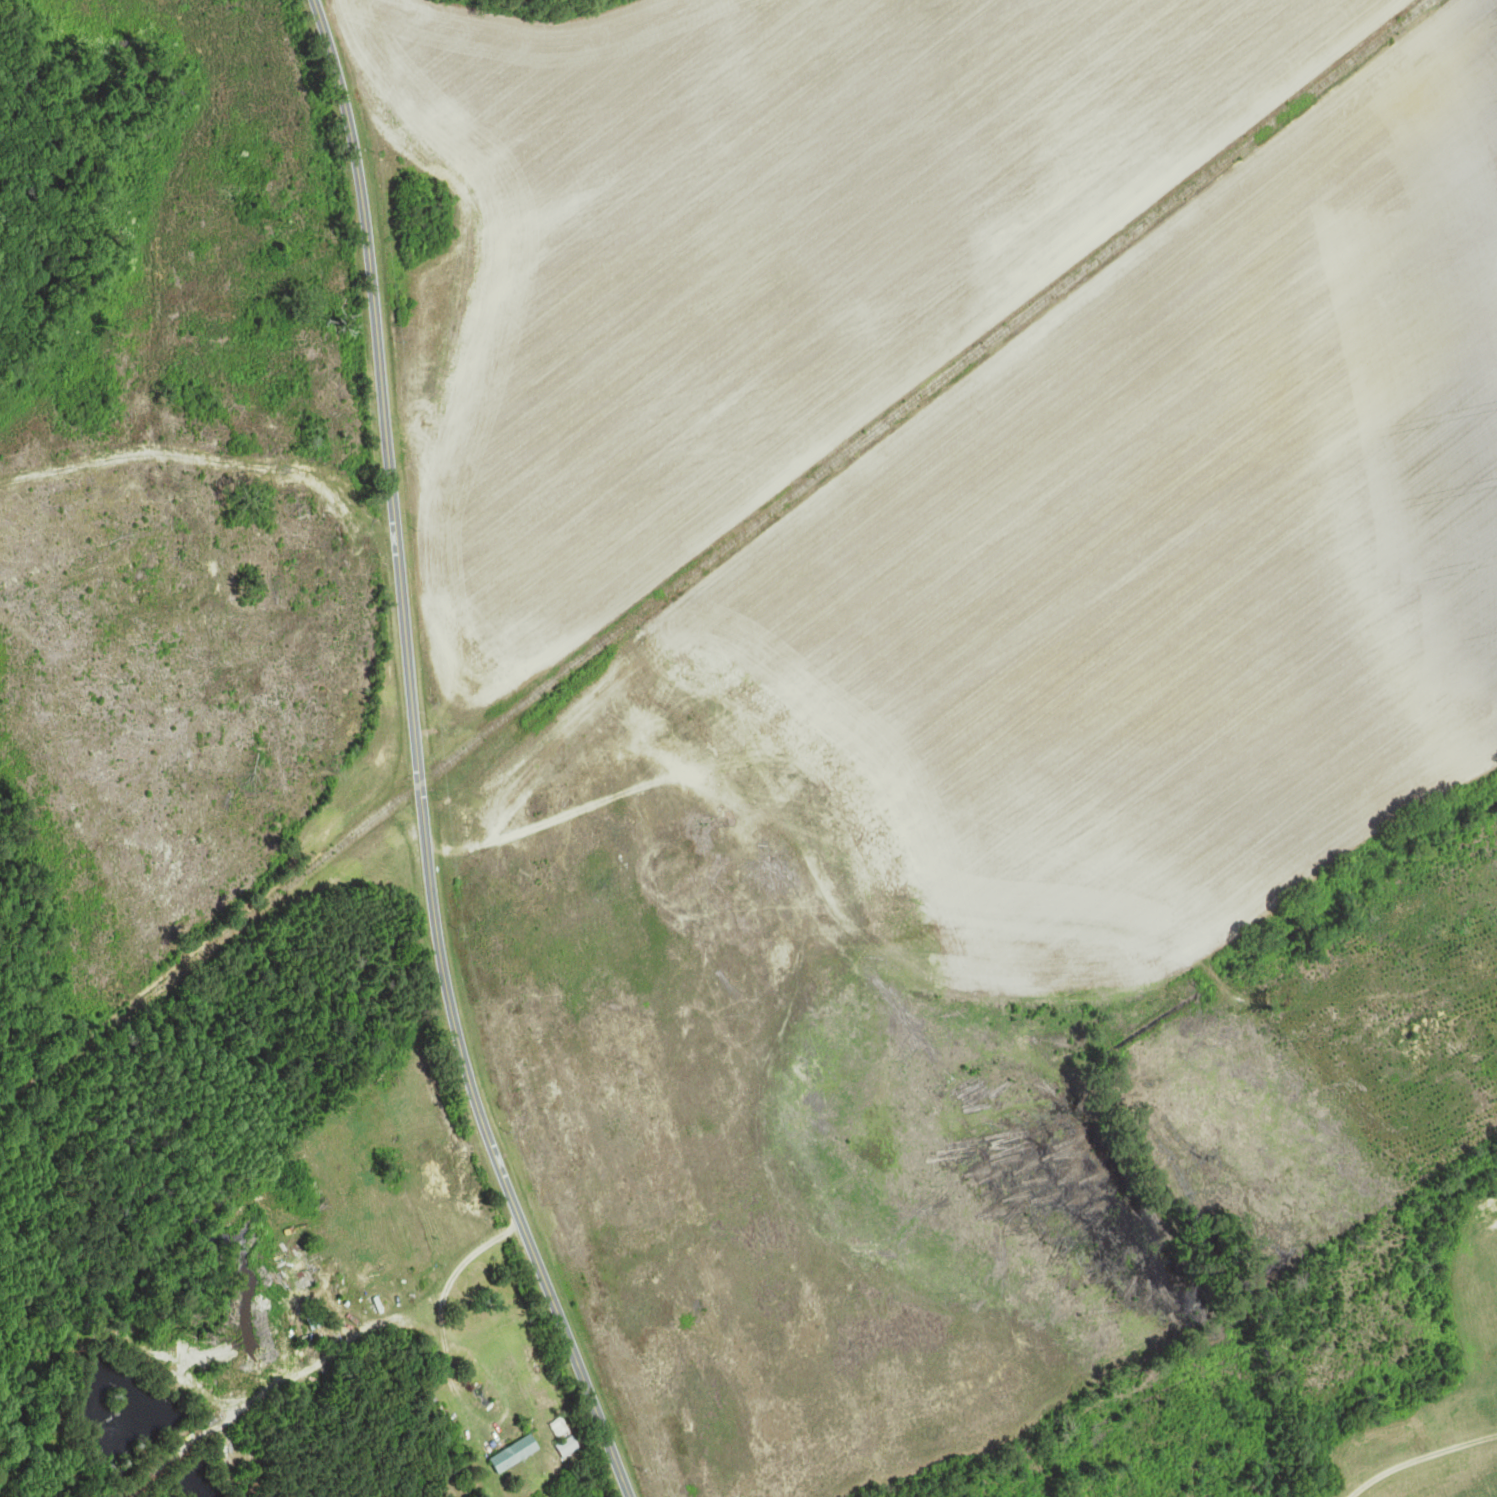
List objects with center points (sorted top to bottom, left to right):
railway: (716, 557)
road: (419, 761)
road: (450, 1380)
building: (573, 1448)
building: (521, 1454)
road: (1418, 1456)

